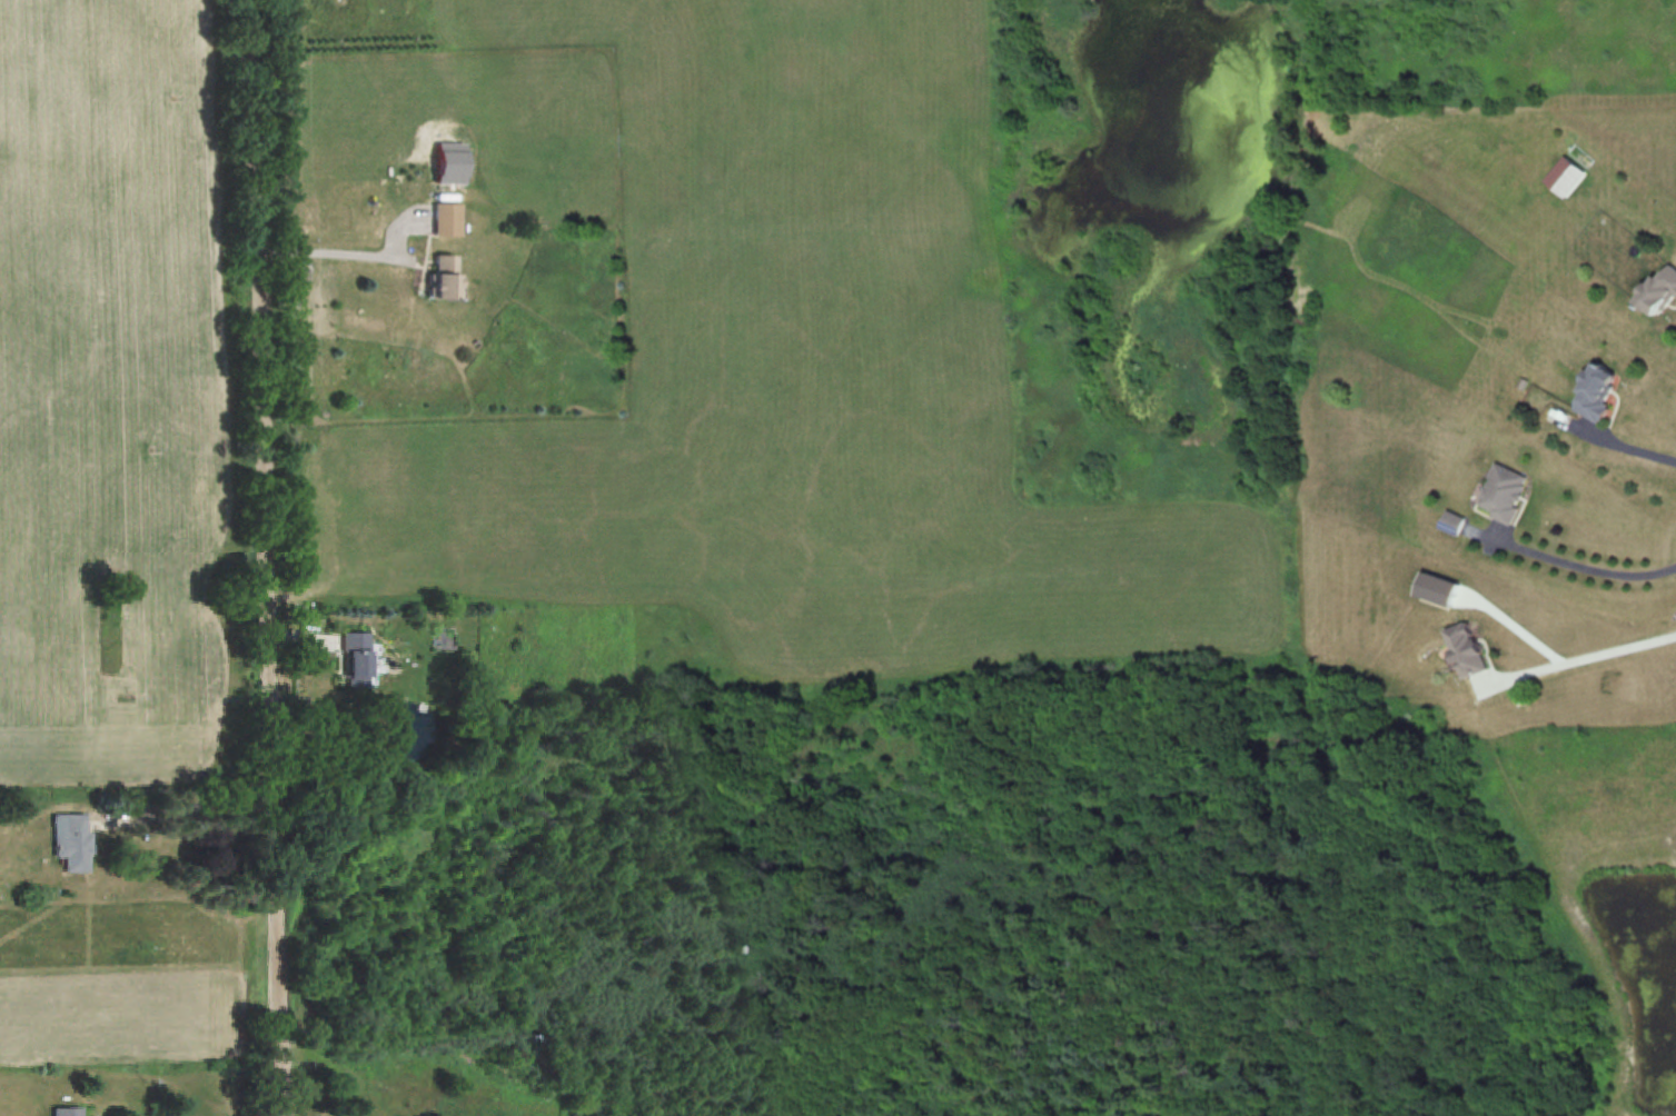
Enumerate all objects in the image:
building: (445, 219)
road: (337, 253)
building: (437, 278)
building: (1659, 291)
building: (1596, 390)
park: (129, 434)
road: (1633, 450)
building: (1504, 490)
road: (270, 558)
road: (1584, 566)
building: (1465, 648)
road: (1583, 656)
building: (353, 658)
road: (196, 814)
building: (71, 843)
building: (66, 1112)

